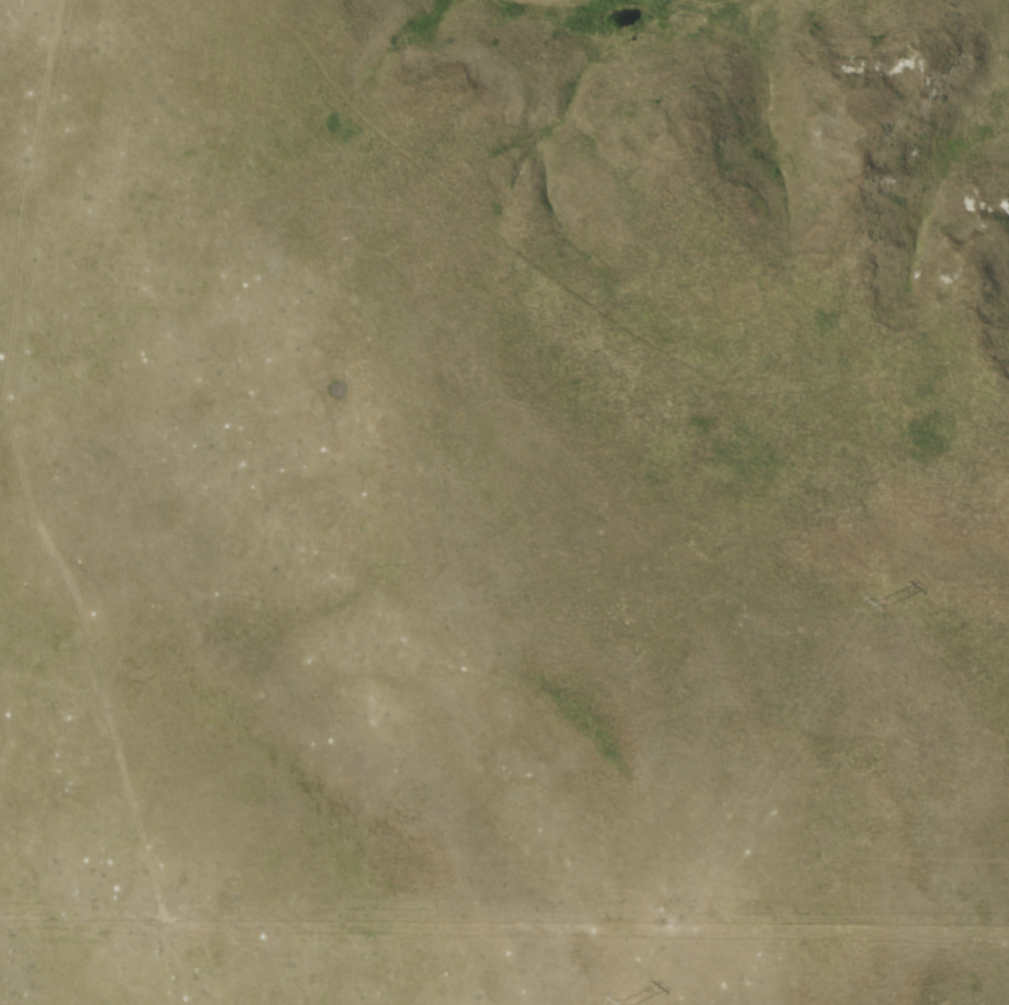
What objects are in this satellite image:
power tower: (886, 601)
power tower: (625, 1002)

